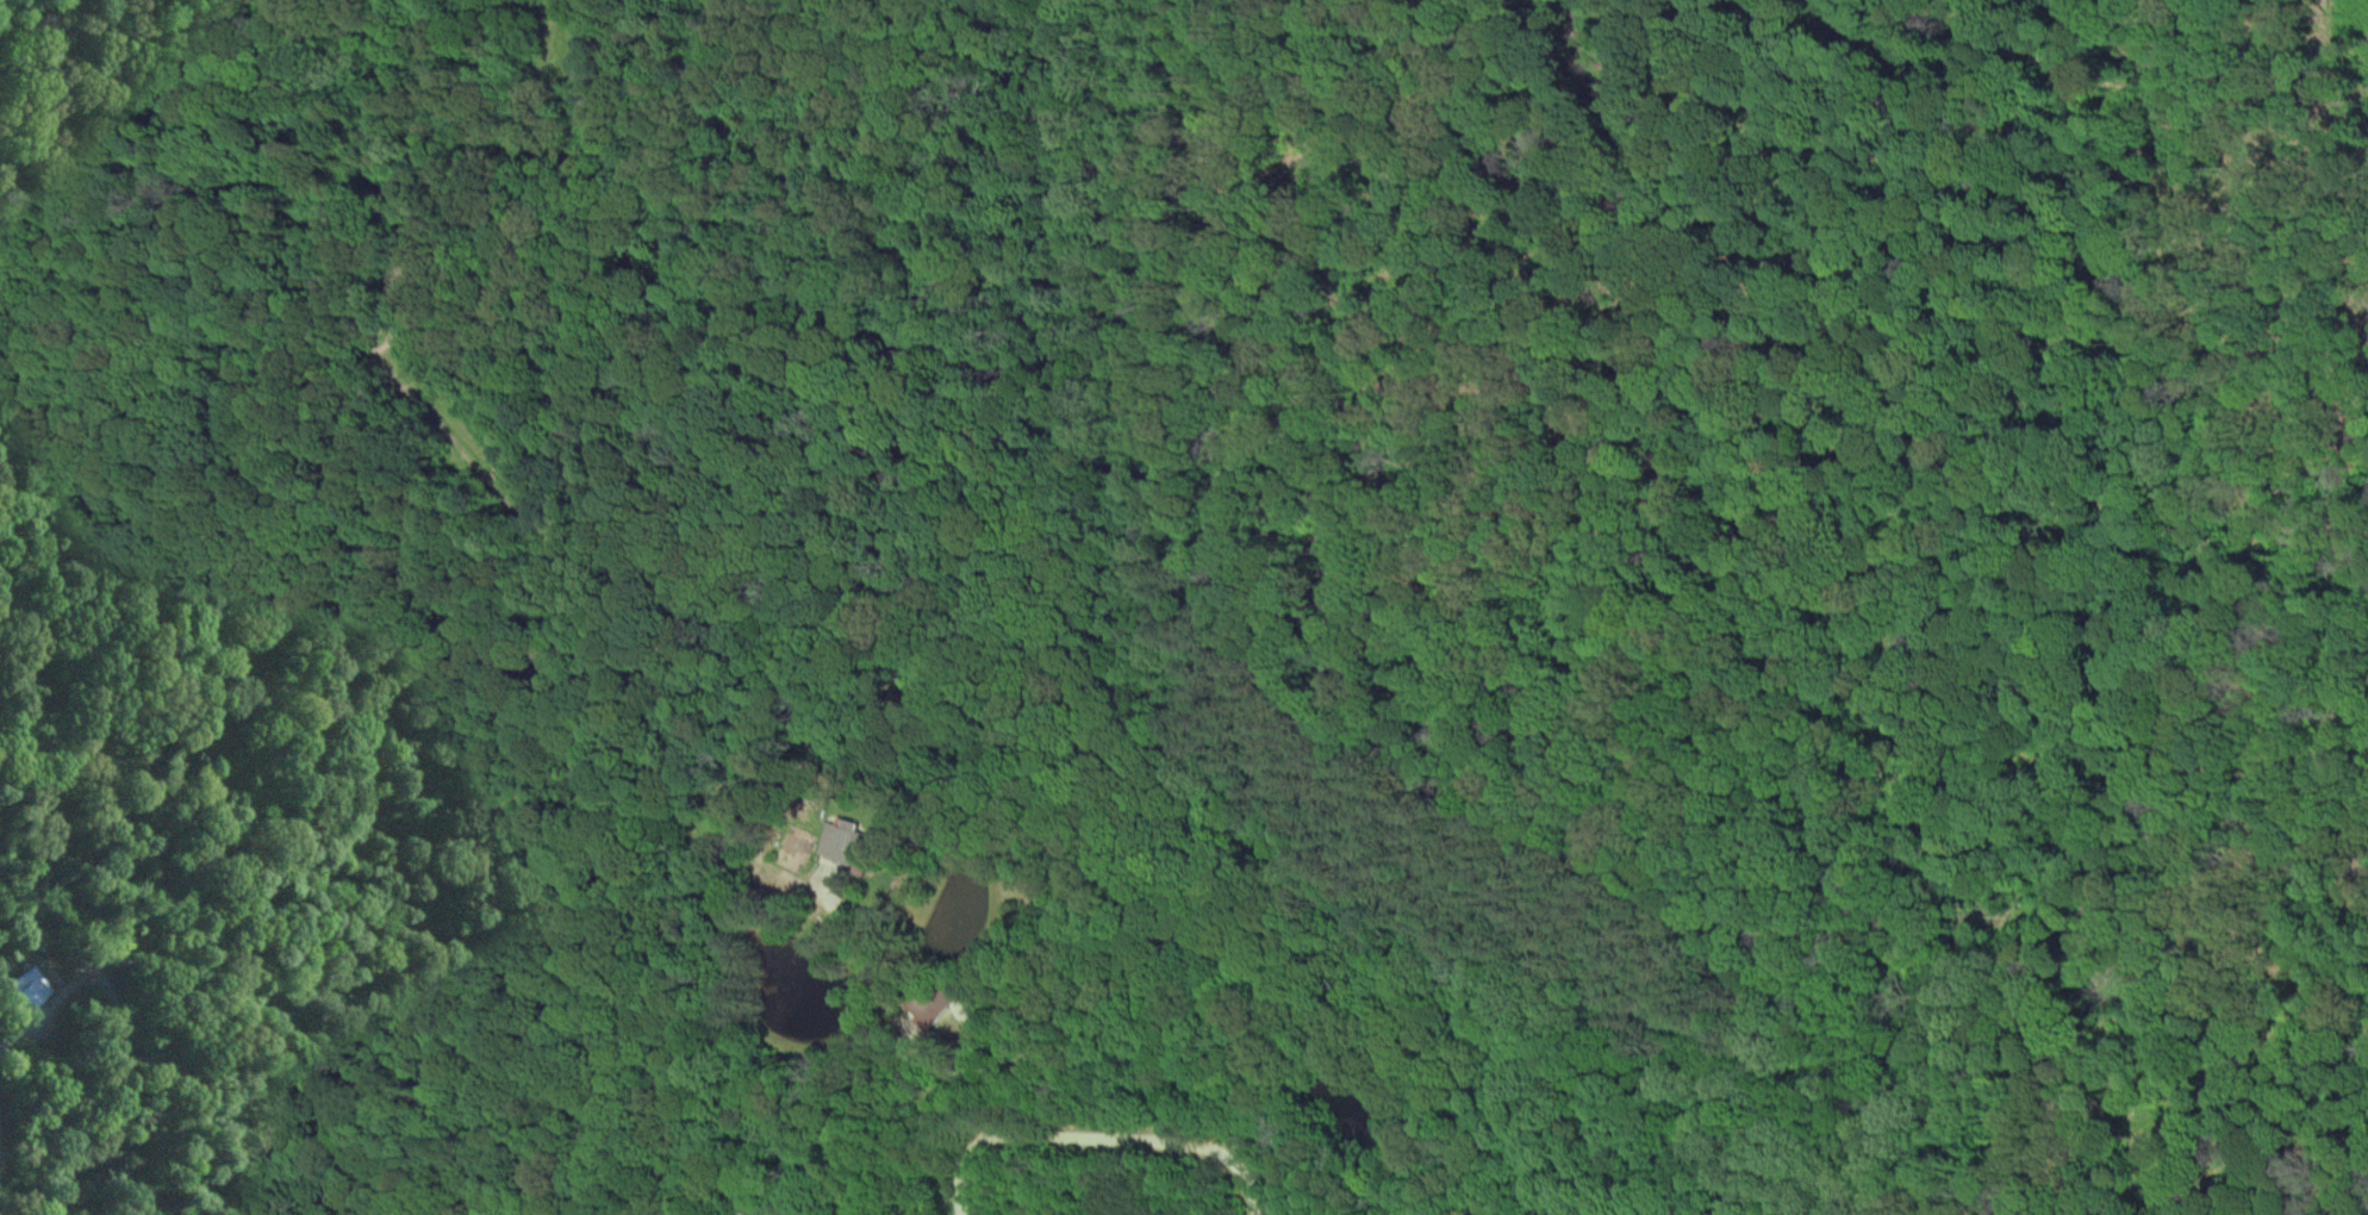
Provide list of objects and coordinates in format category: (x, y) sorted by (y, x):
road: (2335, 52)
building: (841, 841)
building: (23, 990)
building: (933, 1004)
road: (2217, 1011)
road: (896, 1023)
road: (1105, 1130)

